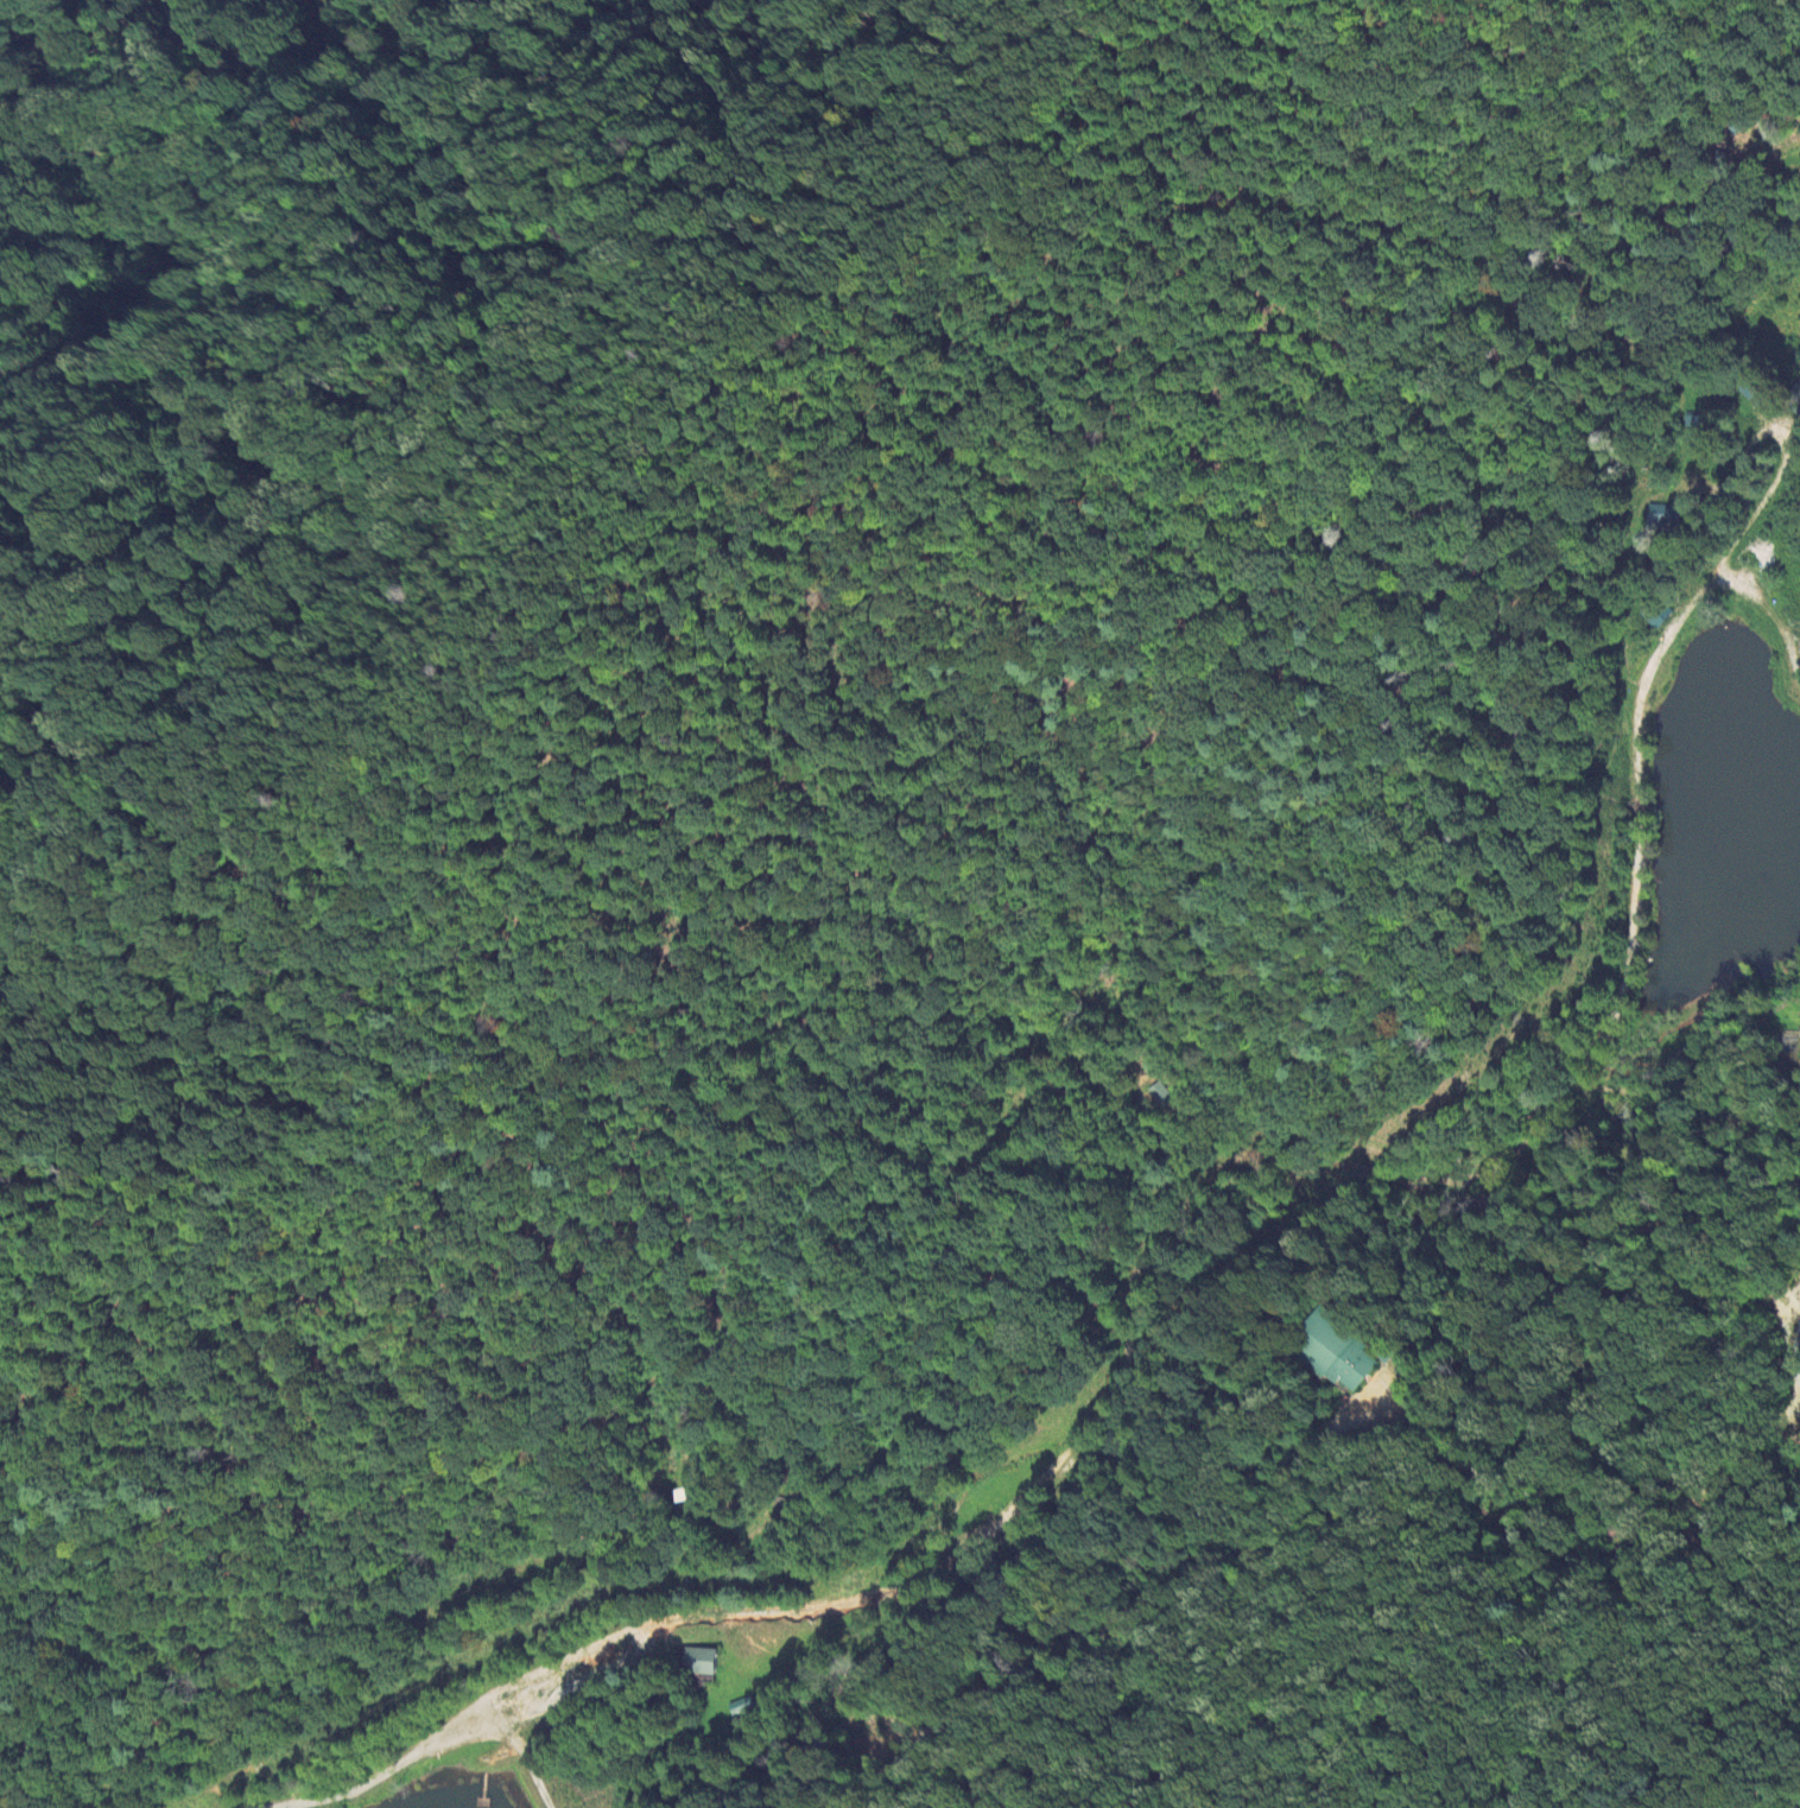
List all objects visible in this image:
building: (1663, 515)
road: (1768, 598)
dam: (1734, 621)
dam: (1764, 637)
building: (1776, 1054)
road: (1630, 1090)
building: (1164, 1096)
road: (1161, 1223)
building: (1336, 1355)
road: (1597, 1463)
road: (683, 1566)
road: (1166, 1590)
building: (702, 1663)
road: (527, 1761)
road: (905, 1761)
road: (860, 1795)

